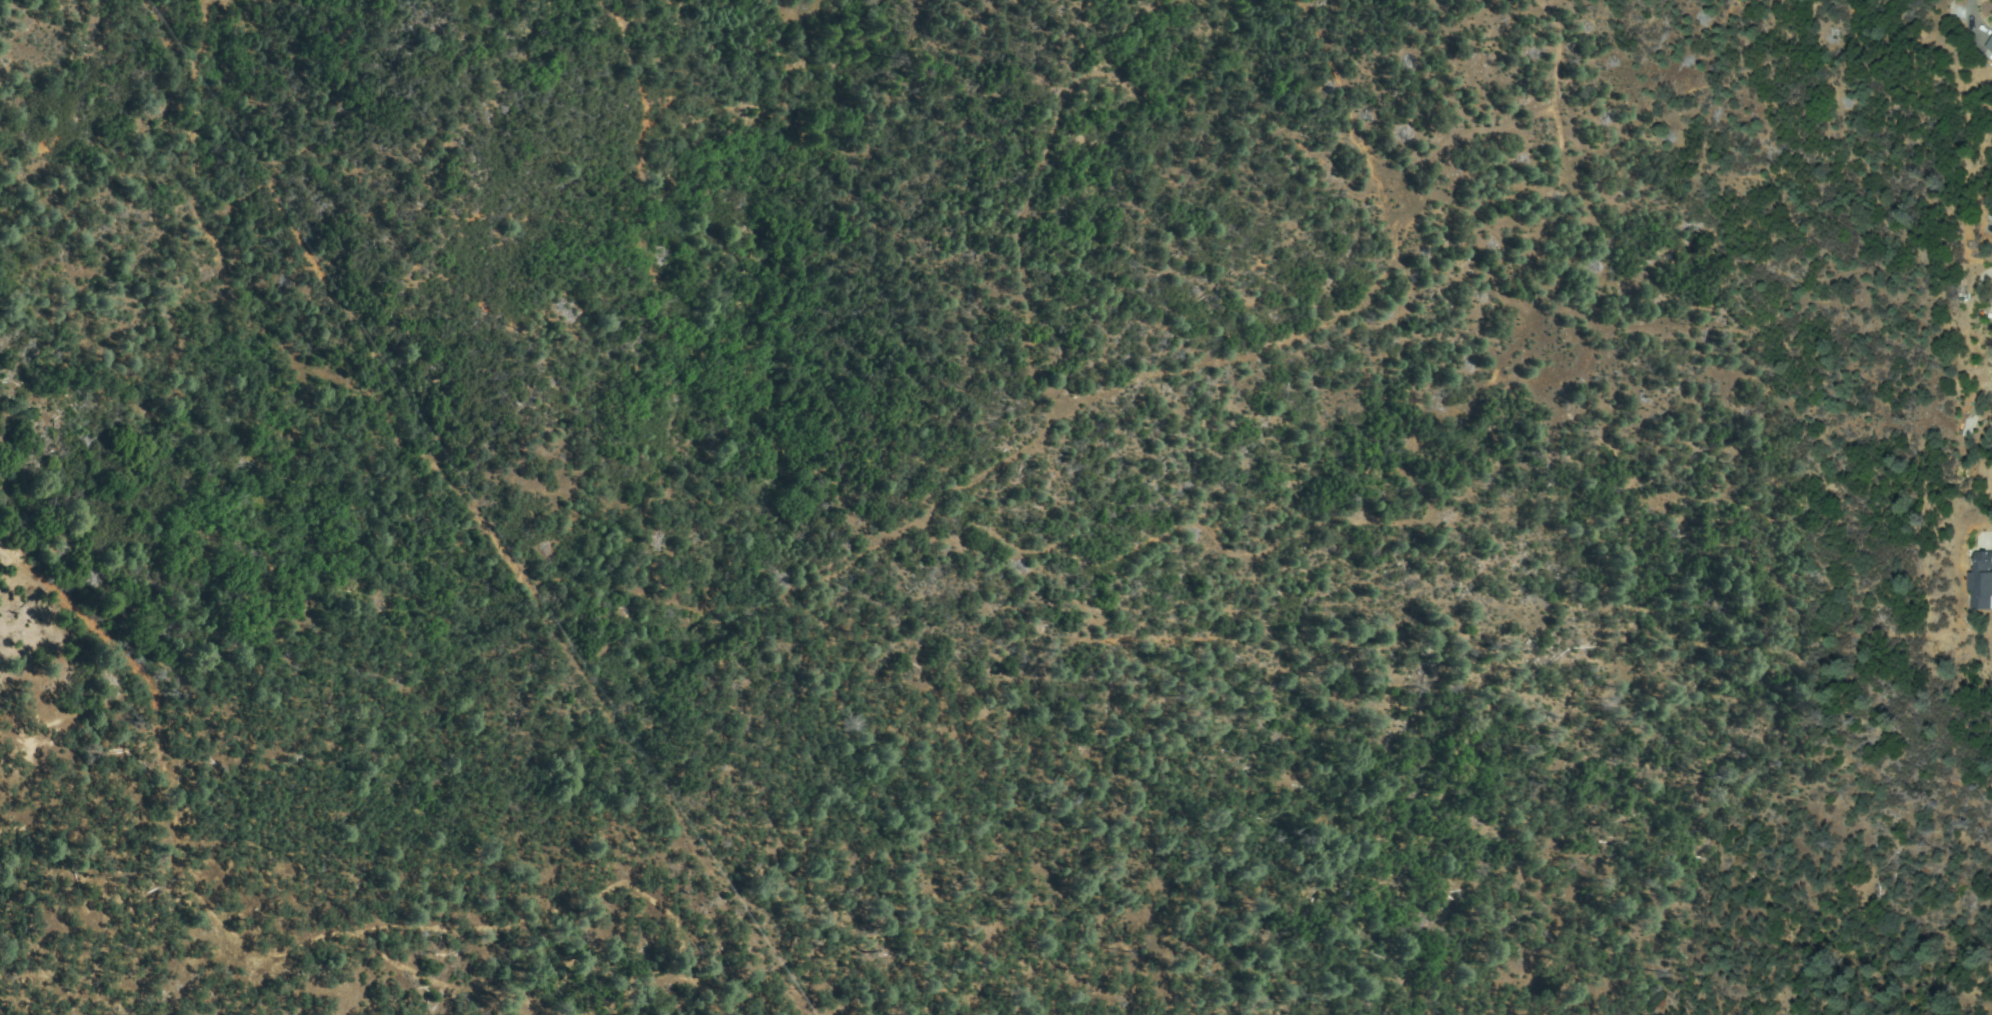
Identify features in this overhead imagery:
building: (1991, 46)
building: (1983, 580)

